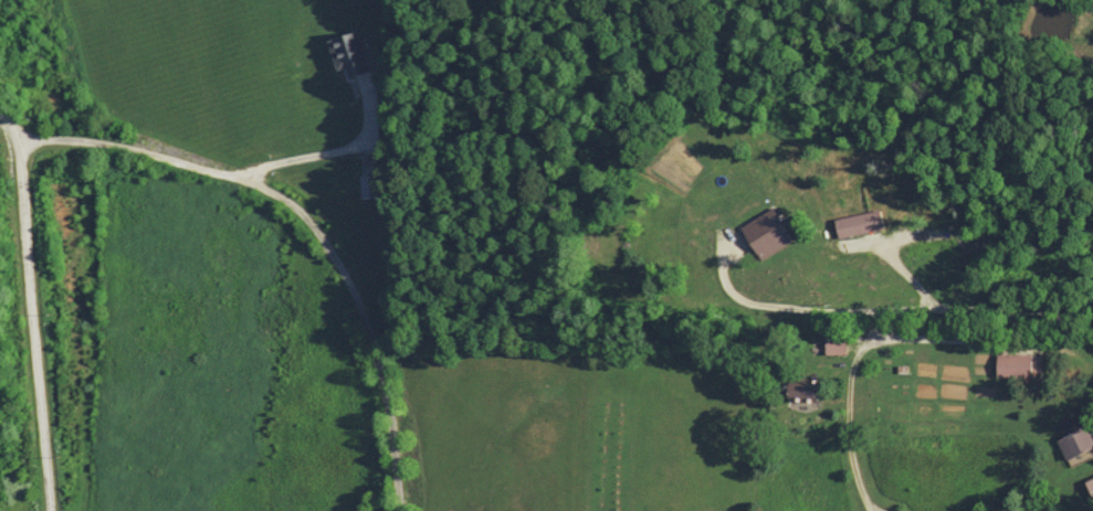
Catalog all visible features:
building: (346, 54)
building: (366, 187)
road: (298, 214)
building: (856, 223)
building: (759, 233)
building: (946, 236)
road: (894, 290)
road: (34, 322)
building: (826, 345)
building: (1015, 364)
building: (797, 391)
building: (1072, 436)

